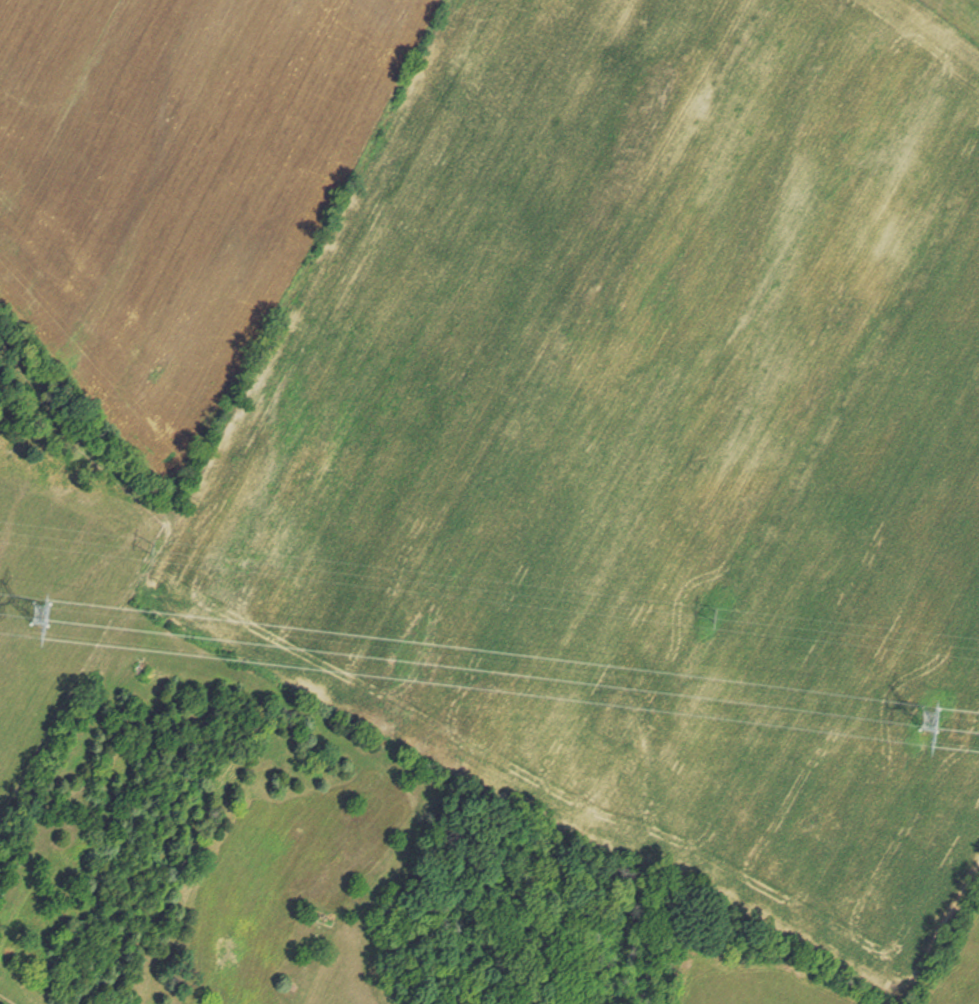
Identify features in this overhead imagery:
power tower: (137, 565)
power tower: (65, 613)
power tower: (965, 715)

